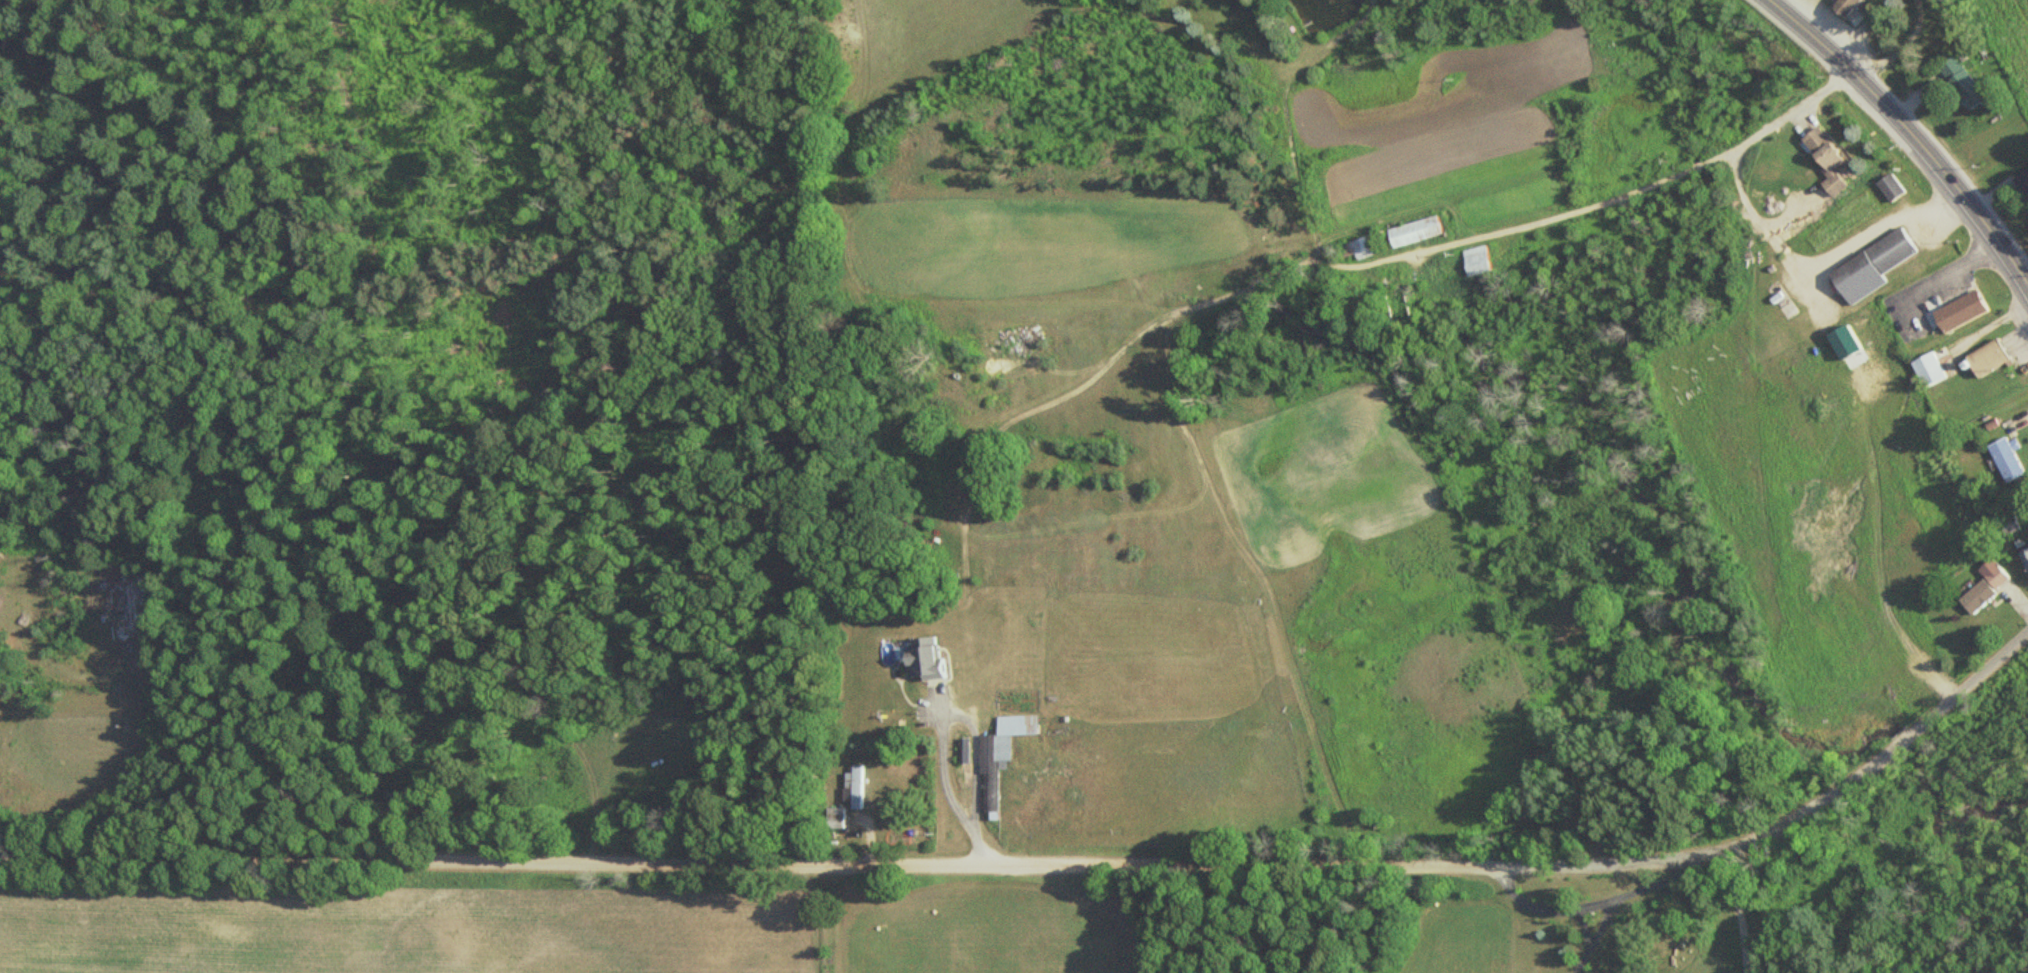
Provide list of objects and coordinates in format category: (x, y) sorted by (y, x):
building: (1841, 5)
building: (1963, 86)
road: (1910, 133)
building: (1825, 158)
building: (1888, 183)
road: (1644, 187)
building: (2023, 187)
building: (1419, 236)
building: (1366, 252)
building: (1869, 262)
road: (1820, 263)
building: (1481, 265)
building: (1389, 289)
building: (1960, 312)
road: (1994, 323)
building: (1991, 362)
building: (1930, 374)
building: (2008, 465)
building: (2023, 556)
building: (1992, 571)
building: (1974, 593)
building: (922, 654)
road: (1913, 730)
building: (962, 747)
building: (995, 751)
building: (852, 782)
building: (833, 817)
road: (900, 864)
road: (1628, 891)
road: (1547, 906)
road: (1582, 925)

